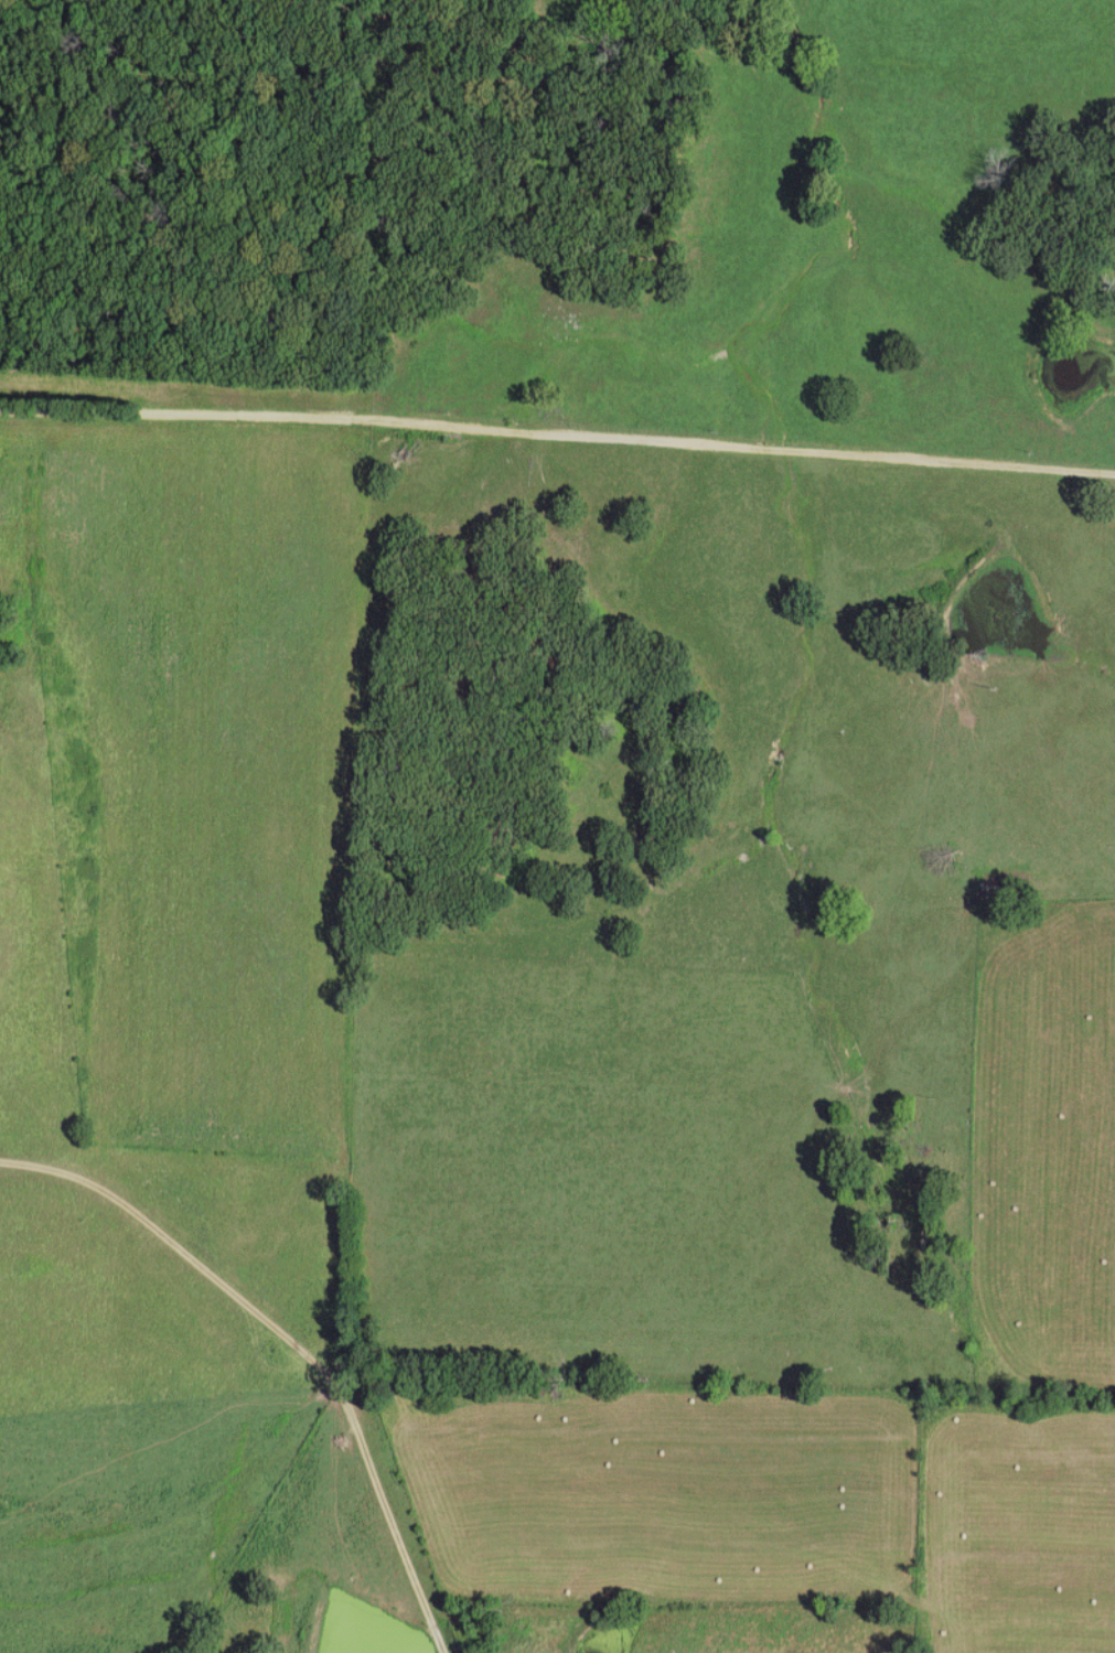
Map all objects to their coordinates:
road: (558, 433)

